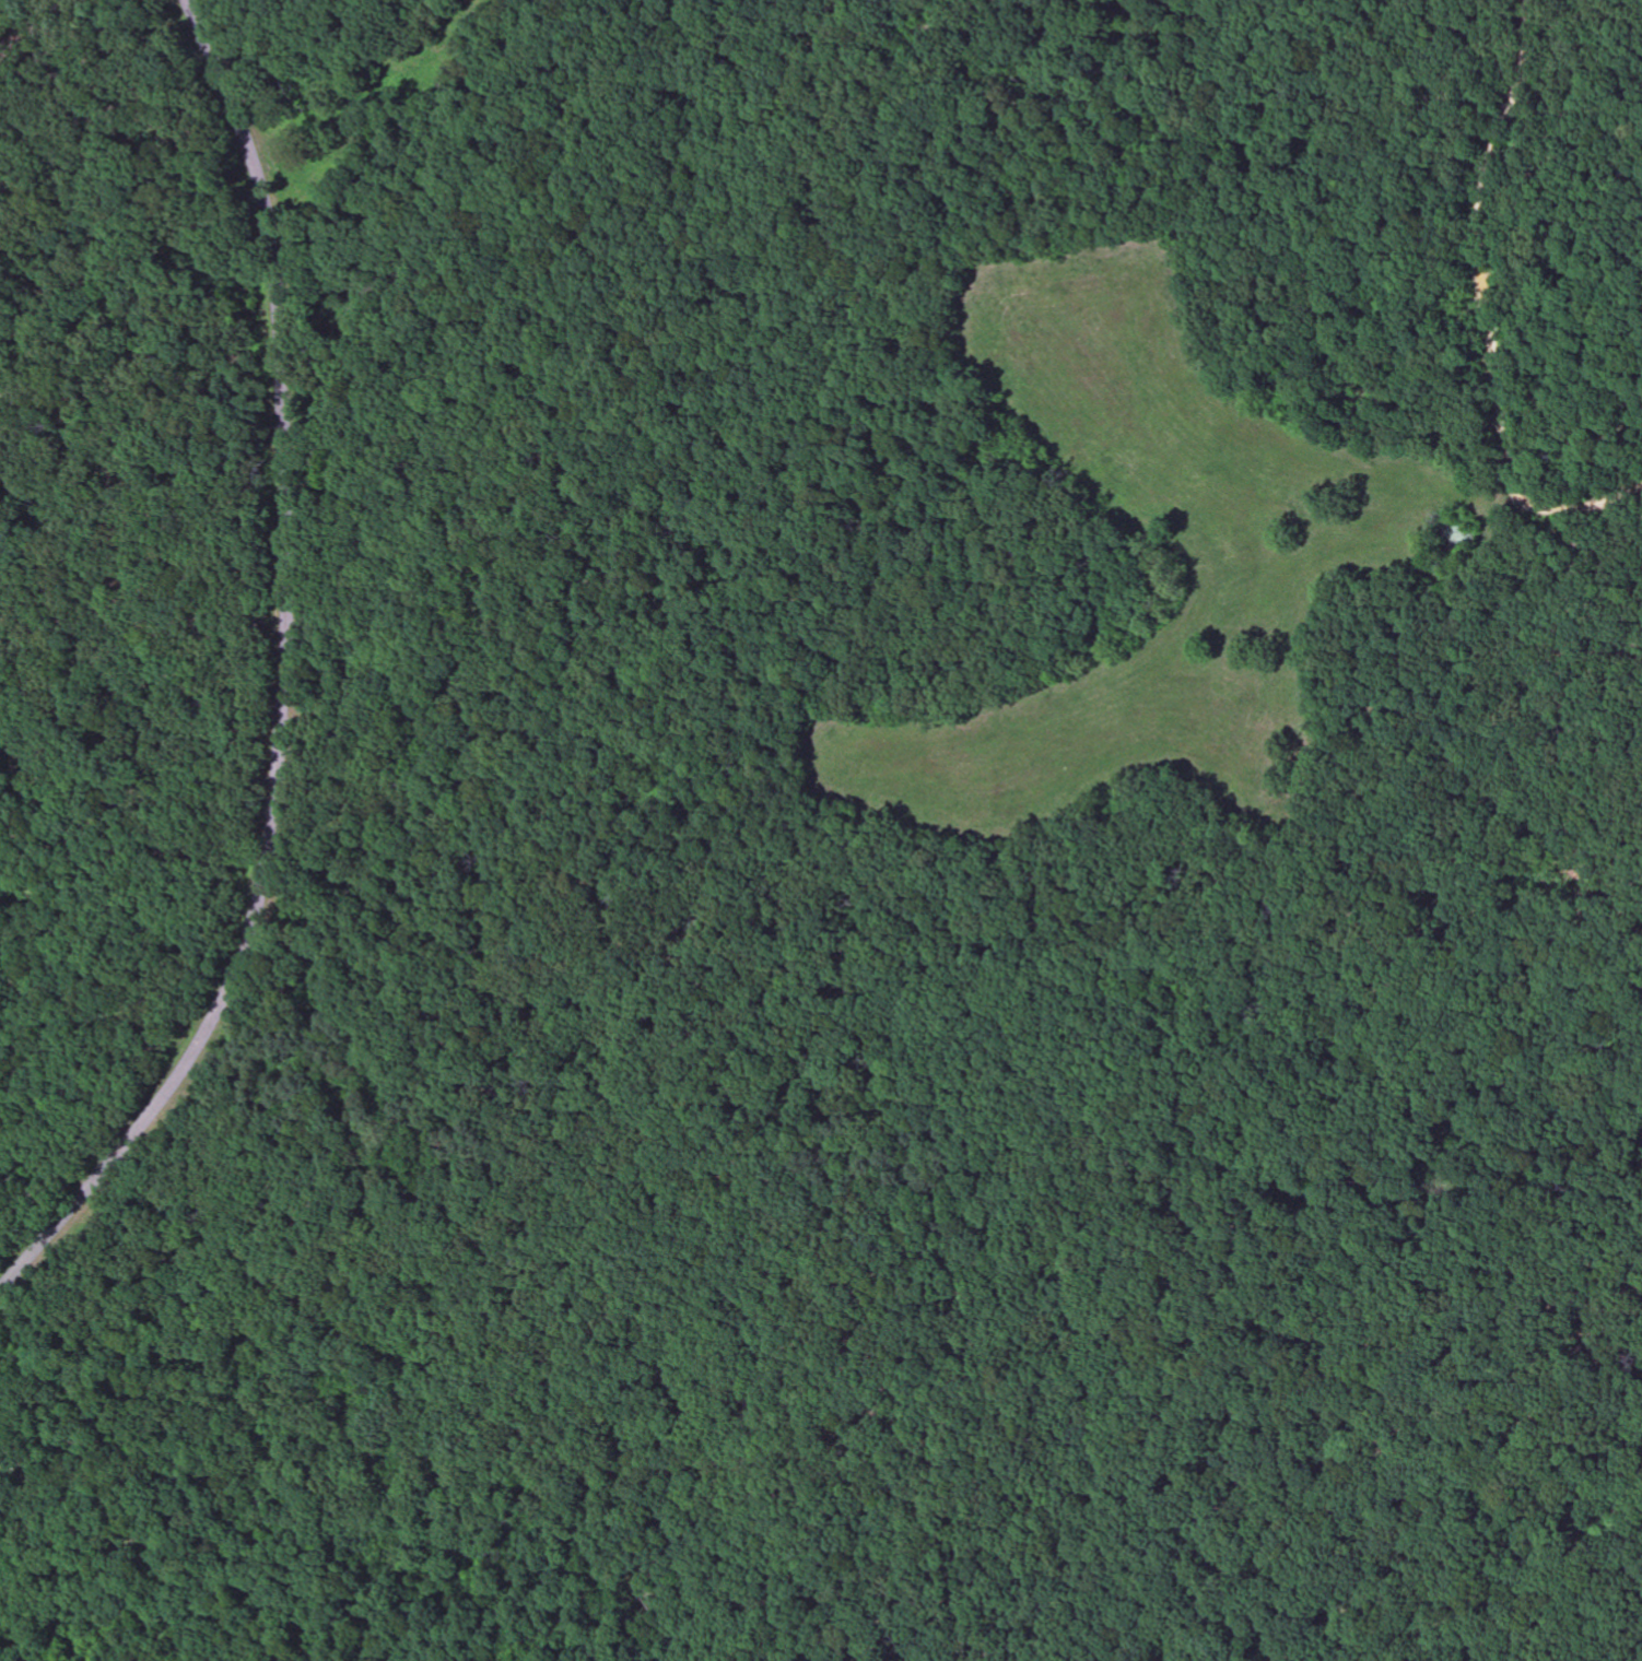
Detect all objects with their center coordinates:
road: (1487, 313)
road: (284, 680)

